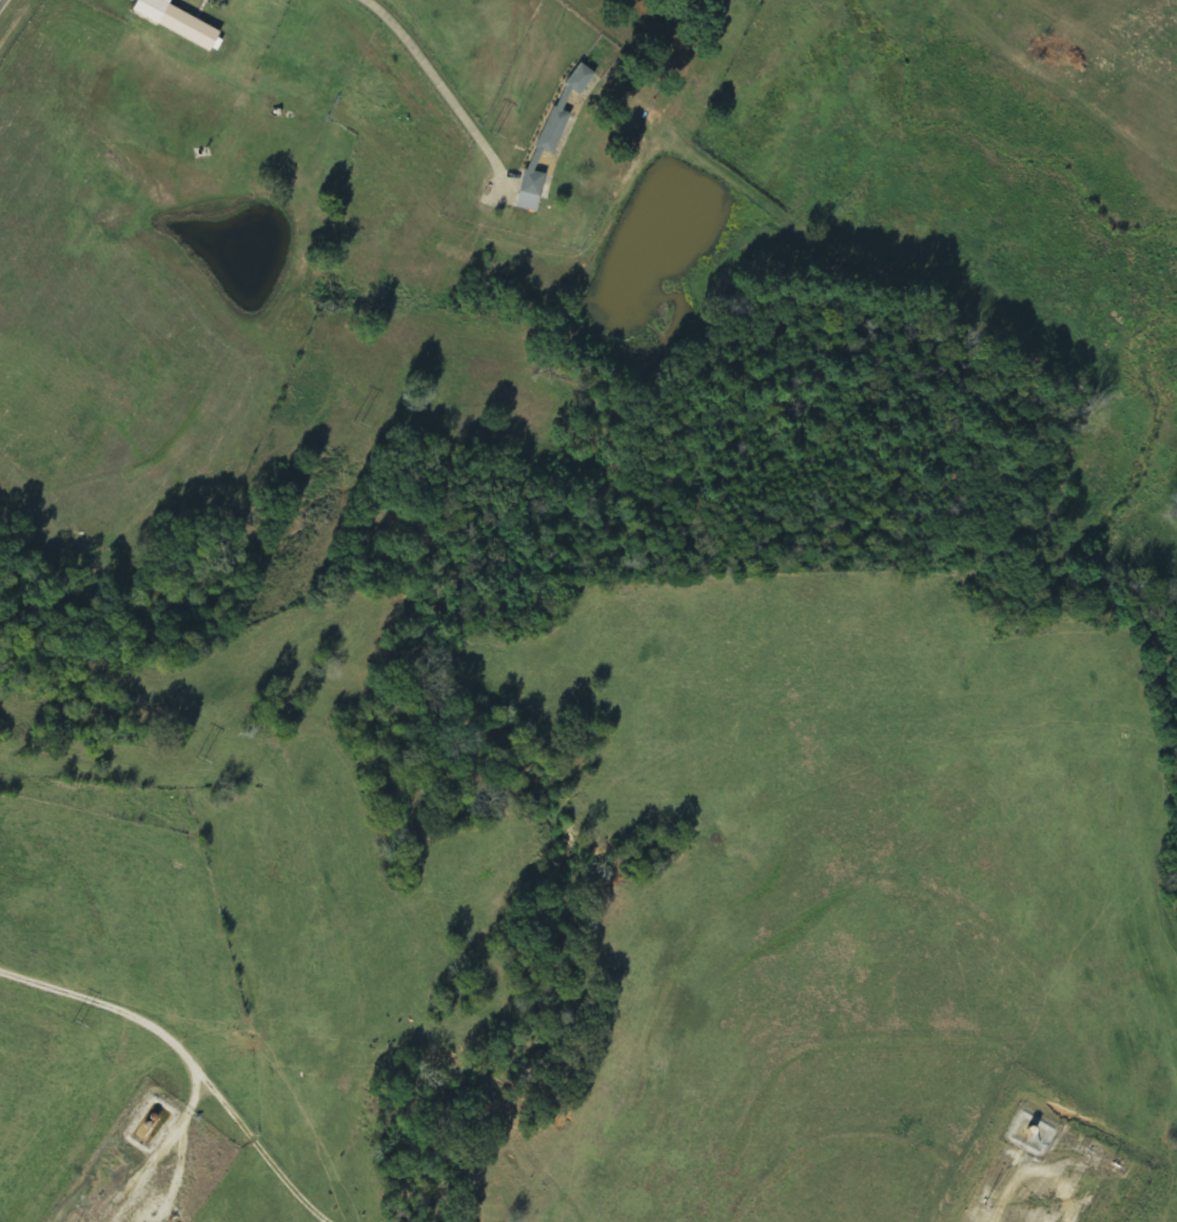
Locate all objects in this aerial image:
building: (176, 22)
building: (561, 104)
power tower: (491, 135)
building: (531, 187)
power tower: (356, 424)
power tower: (199, 758)
power tower: (74, 1022)

